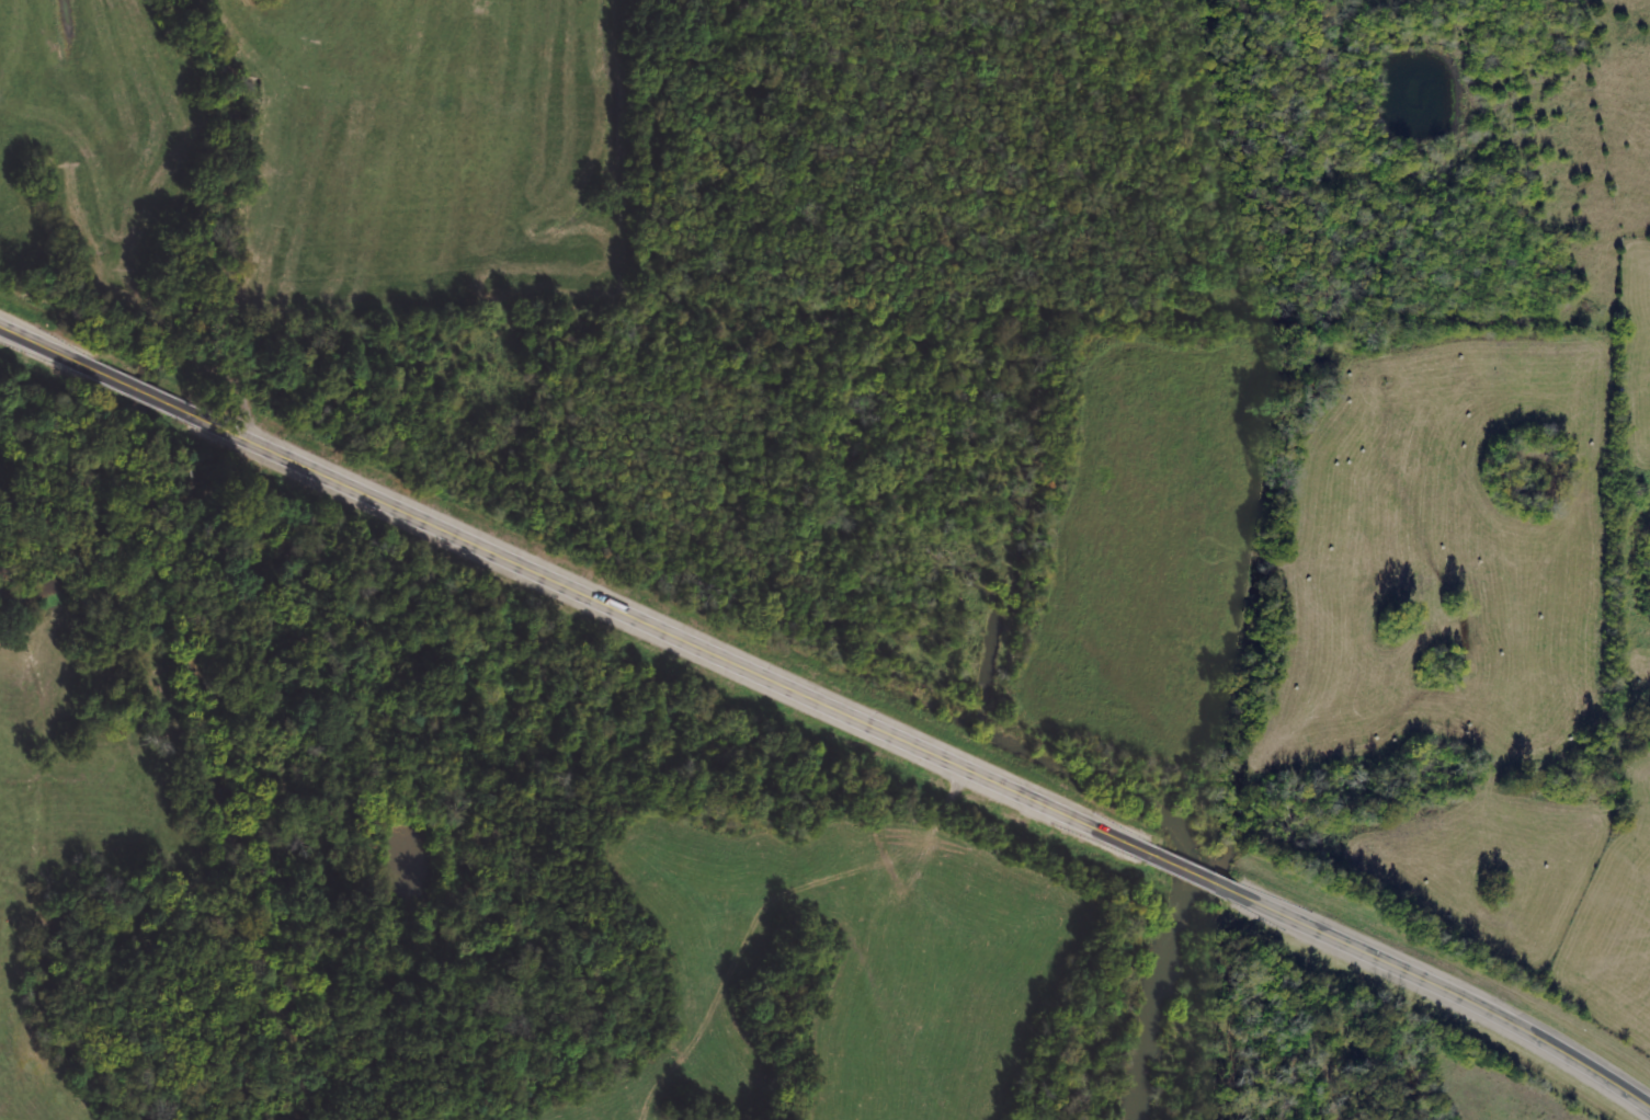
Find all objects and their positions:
railway: (830, 679)
road: (831, 702)

